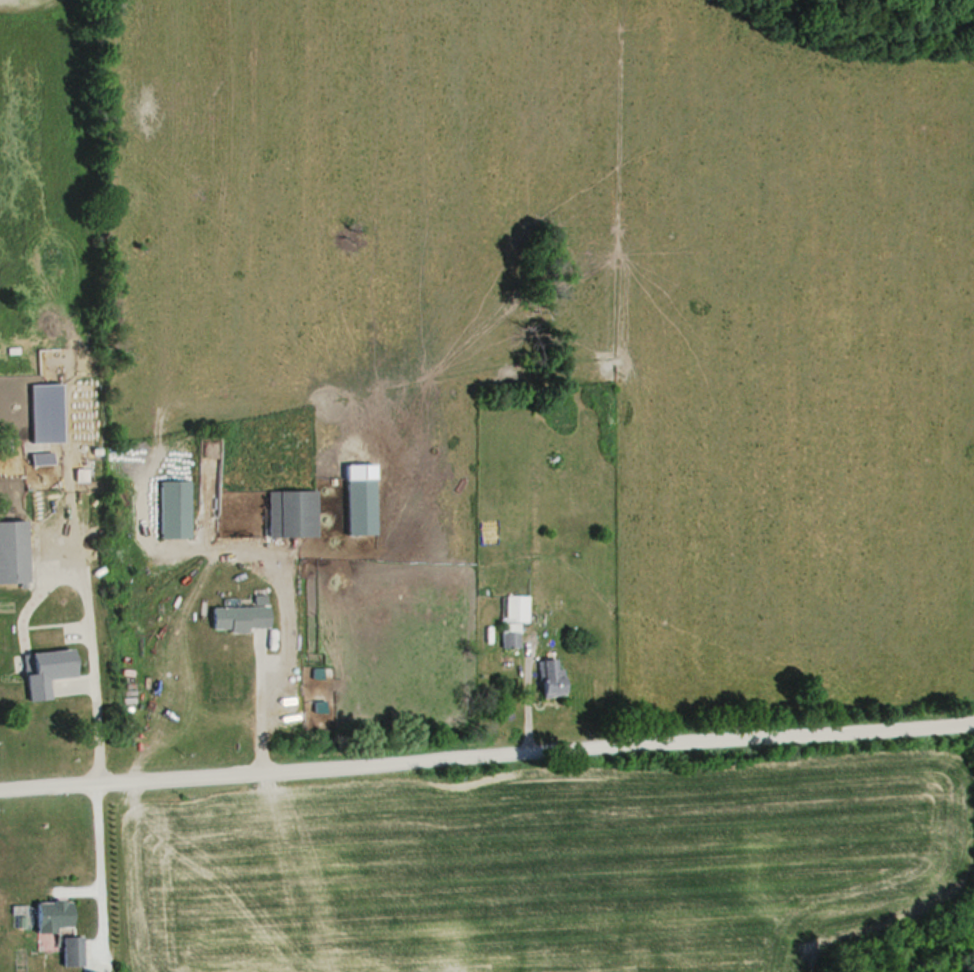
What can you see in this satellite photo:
building: (291, 514)
building: (13, 551)
building: (239, 617)
building: (514, 618)
road: (279, 634)
building: (49, 671)
road: (88, 673)
building: (552, 678)
road: (521, 690)
road: (486, 745)
road: (94, 862)
building: (52, 915)
building: (73, 951)

